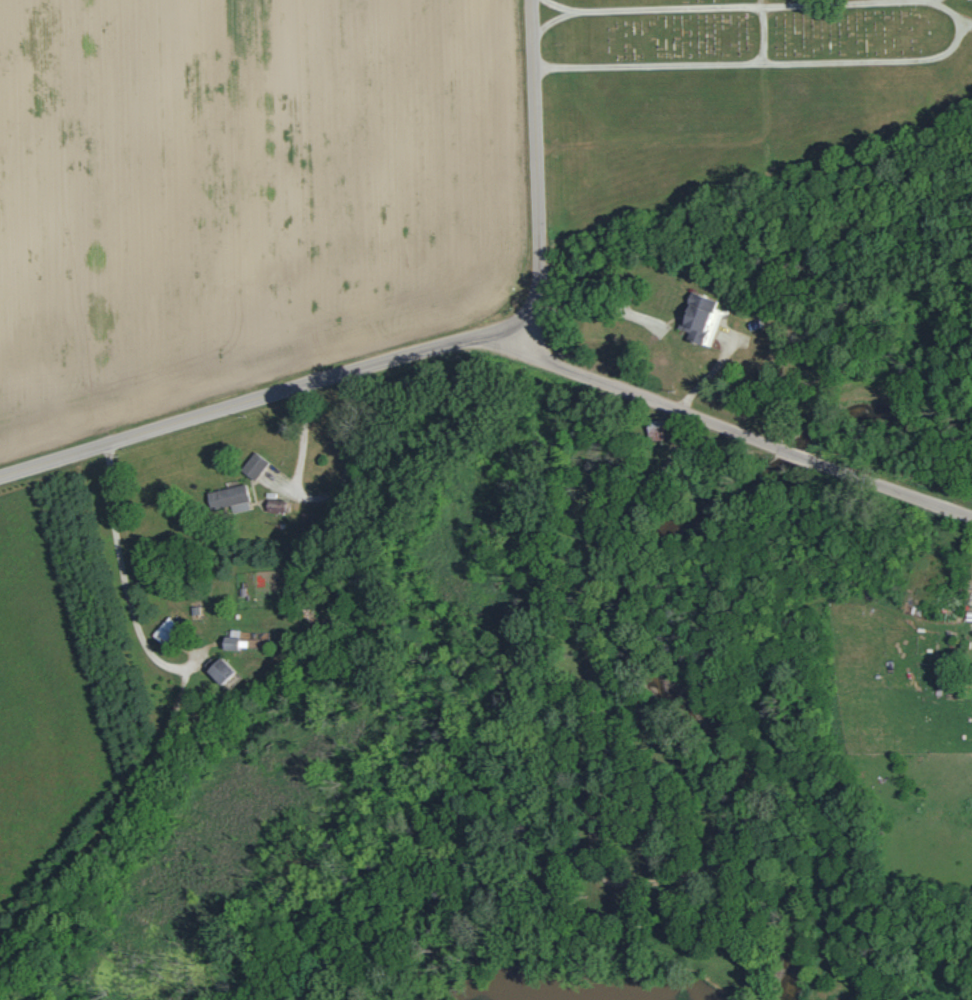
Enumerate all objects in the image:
road: (726, 6)
road: (550, 19)
road: (966, 21)
road: (761, 31)
road: (775, 61)
park: (734, 92)
road: (535, 148)
building: (700, 319)
road: (708, 375)
road: (634, 392)
road: (277, 395)
building: (654, 430)
road: (794, 453)
building: (253, 465)
road: (897, 490)
building: (227, 500)
road: (939, 547)
road: (125, 589)
building: (164, 631)
building: (230, 643)
building: (219, 671)
road: (596, 818)

